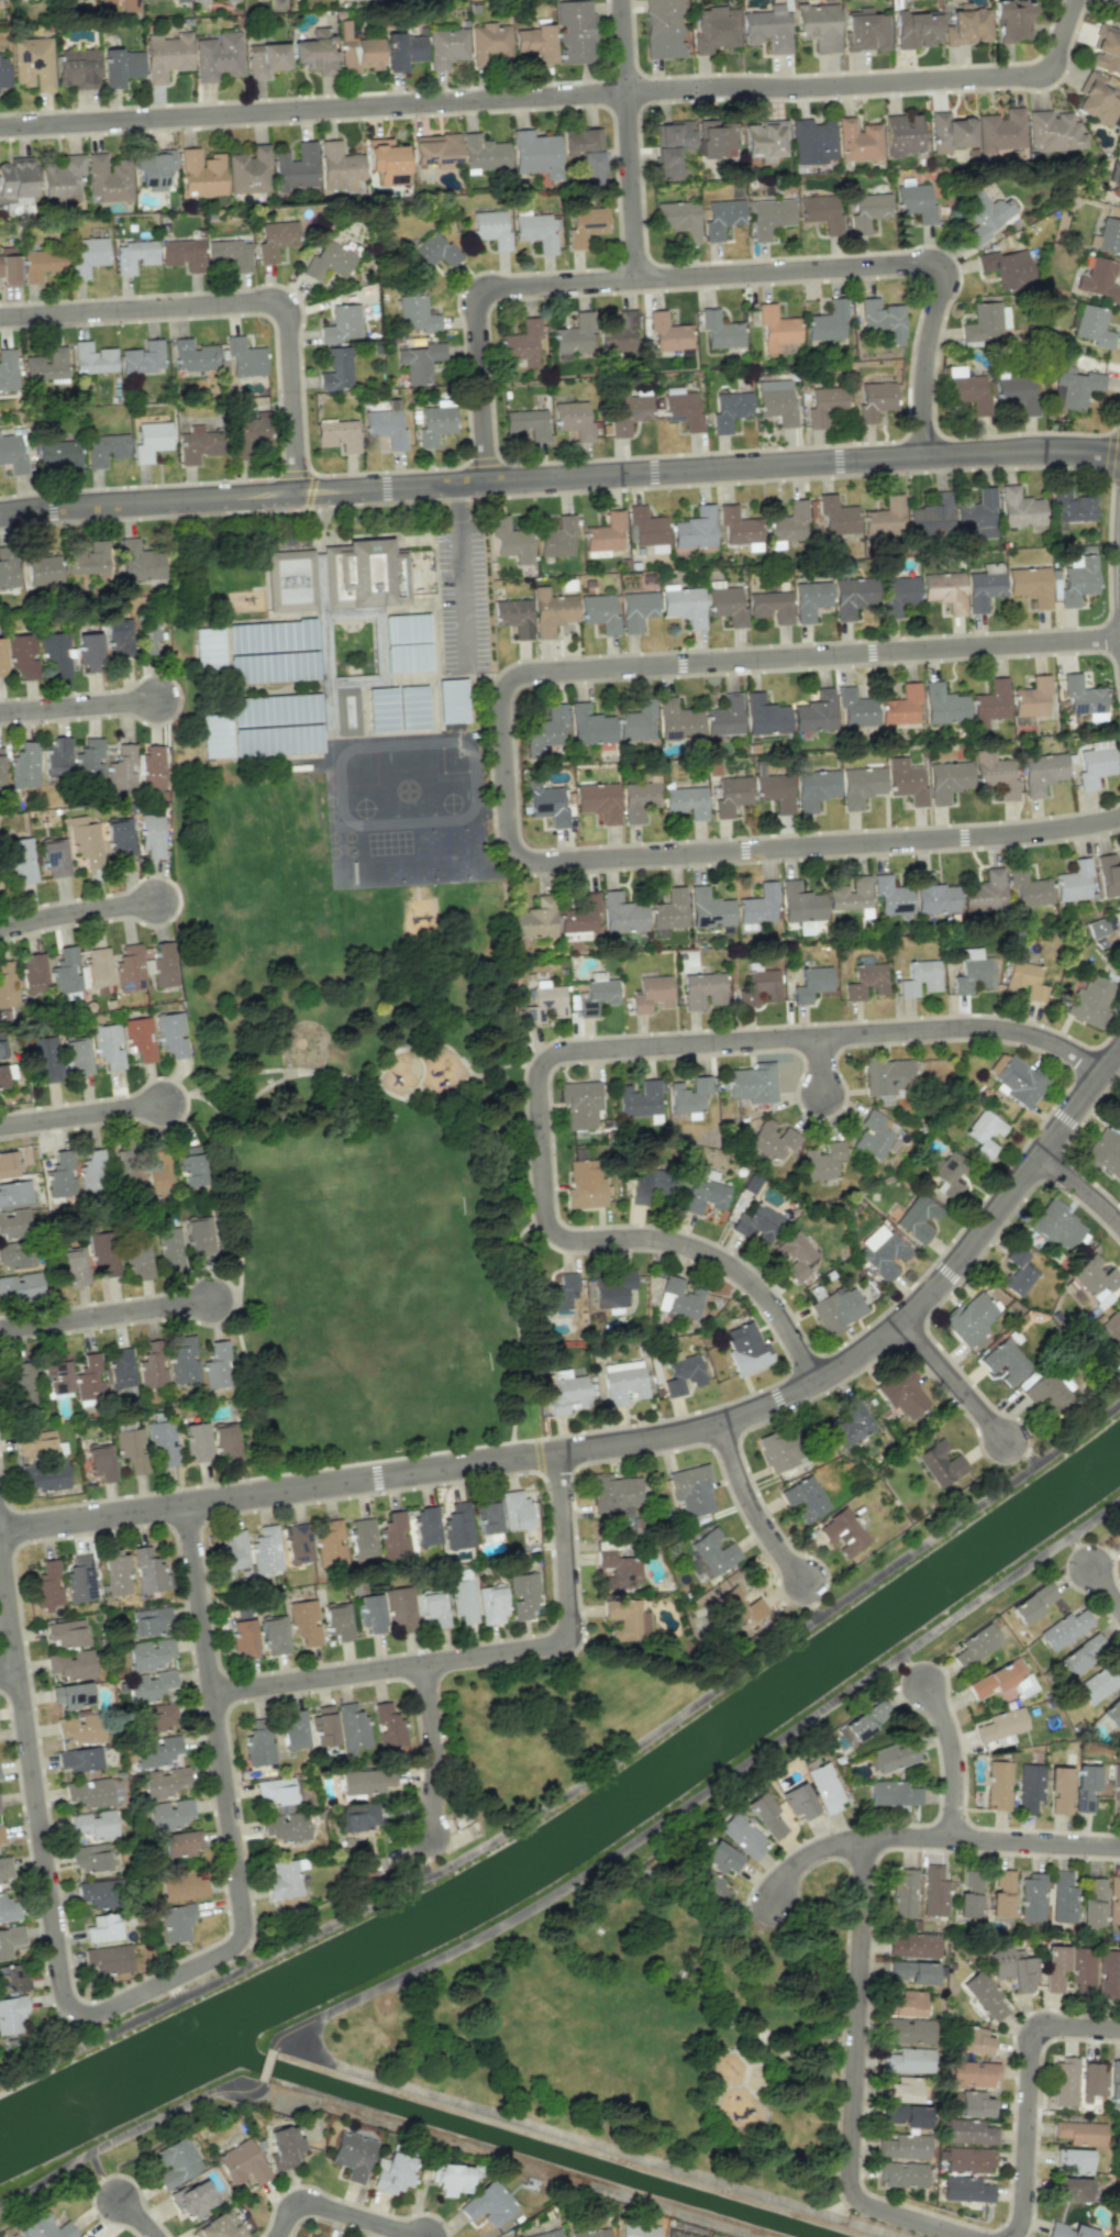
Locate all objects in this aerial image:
building: (151, 0)
building: (230, 0)
building: (199, 1)
building: (121, 4)
building: (1113, 8)
building: (1011, 20)
building: (818, 25)
building: (967, 25)
building: (663, 29)
building: (714, 29)
building: (767, 29)
building: (917, 29)
building: (576, 31)
building: (865, 31)
building: (535, 42)
building: (489, 43)
building: (446, 46)
building: (402, 51)
building: (1106, 51)
building: (315, 52)
building: (358, 53)
building: (166, 56)
building: (218, 56)
building: (265, 58)
building: (32, 63)
building: (120, 66)
building: (77, 68)
building: (2, 73)
road: (878, 84)
building: (1096, 99)
road: (314, 111)
building: (1001, 131)
building: (1053, 131)
building: (950, 132)
building: (901, 134)
road: (631, 139)
building: (764, 139)
building: (714, 140)
building: (857, 140)
building: (811, 141)
building: (670, 147)
building: (435, 149)
building: (483, 154)
building: (535, 154)
building: (585, 154)
building: (385, 160)
building: (339, 166)
building: (296, 167)
building: (153, 168)
building: (248, 170)
building: (200, 174)
building: (60, 178)
building: (108, 178)
building: (15, 179)
building: (1117, 188)
building: (916, 202)
building: (867, 210)
building: (821, 212)
building: (984, 213)
building: (768, 217)
building: (721, 218)
building: (678, 219)
building: (586, 224)
building: (491, 229)
building: (535, 230)
building: (1109, 235)
building: (275, 239)
building: (431, 251)
building: (231, 253)
building: (182, 254)
building: (87, 255)
building: (134, 256)
building: (326, 262)
building: (1007, 268)
building: (8, 270)
road: (709, 274)
building: (1098, 281)
road: (234, 303)
building: (415, 313)
building: (883, 320)
building: (828, 321)
building: (985, 322)
building: (341, 324)
building: (1093, 326)
building: (776, 328)
building: (720, 330)
building: (618, 332)
building: (668, 333)
building: (574, 335)
building: (522, 344)
building: (192, 355)
building: (143, 357)
building: (244, 357)
building: (92, 358)
building: (419, 362)
building: (46, 366)
building: (7, 369)
building: (336, 369)
building: (1073, 388)
building: (1016, 392)
building: (874, 400)
building: (776, 401)
building: (824, 403)
building: (730, 409)
building: (683, 410)
building: (628, 413)
building: (573, 420)
building: (434, 423)
building: (526, 423)
building: (386, 428)
building: (248, 430)
building: (337, 435)
building: (151, 440)
building: (197, 444)
building: (104, 448)
building: (13, 453)
building: (59, 455)
road: (708, 468)
road: (147, 501)
building: (1071, 508)
building: (1020, 509)
building: (931, 517)
building: (976, 517)
building: (883, 518)
building: (836, 519)
building: (787, 524)
building: (738, 525)
building: (646, 528)
building: (695, 529)
building: (606, 533)
building: (557, 539)
building: (511, 540)
building: (88, 560)
building: (140, 563)
building: (41, 568)
building: (8, 574)
road: (461, 576)
building: (1077, 578)
building: (1030, 585)
building: (983, 589)
building: (944, 590)
building: (898, 594)
building: (852, 596)
building: (810, 599)
building: (727, 605)
building: (684, 606)
building: (770, 606)
building: (358, 608)
building: (636, 609)
building: (551, 611)
building: (599, 612)
building: (514, 617)
building: (271, 635)
building: (148, 636)
building: (118, 638)
building: (208, 649)
building: (88, 652)
building: (54, 654)
road: (823, 655)
building: (1, 658)
building: (23, 658)
building: (274, 667)
building: (1031, 697)
building: (452, 700)
building: (989, 702)
road: (79, 705)
building: (943, 705)
building: (900, 706)
building: (412, 708)
building: (855, 708)
building: (276, 709)
building: (381, 709)
building: (345, 711)
building: (814, 712)
building: (764, 715)
building: (724, 717)
building: (636, 720)
building: (677, 720)
building: (590, 726)
building: (545, 730)
building: (215, 735)
building: (277, 740)
building: (57, 756)
building: (88, 760)
building: (0, 765)
building: (24, 765)
building: (1094, 766)
building: (121, 768)
building: (151, 768)
road: (507, 772)
building: (1041, 773)
building: (995, 774)
building: (905, 780)
building: (947, 780)
building: (860, 785)
building: (814, 788)
building: (774, 791)
building: (730, 794)
building: (639, 799)
building: (599, 800)
building: (686, 801)
building: (546, 804)
building: (151, 835)
building: (120, 838)
building: (85, 841)
road: (831, 845)
building: (54, 857)
building: (21, 861)
building: (1108, 874)
building: (1073, 882)
building: (1027, 888)
building: (984, 893)
building: (850, 894)
building: (933, 895)
building: (890, 896)
building: (800, 902)
building: (757, 905)
park: (260, 907)
building: (709, 908)
building: (669, 910)
road: (80, 912)
building: (579, 913)
building: (622, 913)
building: (536, 918)
building: (1096, 928)
building: (1118, 932)
building: (574, 934)
building: (145, 966)
building: (97, 967)
building: (972, 971)
building: (65, 972)
building: (33, 973)
building: (919, 978)
building: (1025, 979)
building: (865, 981)
building: (7, 984)
building: (810, 984)
building: (761, 987)
building: (702, 990)
building: (651, 994)
building: (596, 996)
building: (550, 999)
building: (1090, 1001)
building: (170, 1034)
building: (138, 1038)
road: (421, 1044)
building: (107, 1045)
building: (0, 1049)
road: (578, 1051)
building: (77, 1055)
building: (44, 1057)
road: (824, 1065)
road: (499, 1068)
road: (268, 1070)
building: (888, 1076)
building: (1, 1077)
building: (1019, 1082)
building: (753, 1083)
building: (689, 1095)
road: (425, 1098)
building: (579, 1103)
road: (82, 1115)
park: (355, 1130)
building: (984, 1133)
building: (872, 1137)
building: (770, 1139)
building: (1105, 1153)
building: (822, 1161)
building: (125, 1163)
building: (7, 1165)
building: (191, 1167)
building: (157, 1169)
building: (90, 1170)
building: (60, 1174)
building: (650, 1184)
building: (585, 1185)
road: (1083, 1186)
building: (703, 1189)
building: (14, 1193)
park: (353, 1214)
building: (917, 1217)
building: (13, 1222)
building: (756, 1222)
building: (200, 1238)
building: (169, 1249)
building: (881, 1251)
building: (103, 1253)
building: (15, 1255)
road: (241, 1256)
building: (792, 1256)
building: (137, 1260)
building: (73, 1267)
building: (1017, 1272)
building: (1094, 1275)
building: (20, 1286)
building: (613, 1288)
building: (566, 1291)
road: (226, 1297)
building: (679, 1298)
building: (835, 1310)
road: (107, 1316)
building: (969, 1318)
building: (1110, 1331)
building: (745, 1349)
building: (182, 1359)
building: (1003, 1362)
building: (152, 1365)
building: (215, 1365)
building: (120, 1367)
park: (380, 1367)
building: (683, 1375)
building: (89, 1377)
building: (623, 1382)
road: (955, 1382)
building: (23, 1385)
building: (1046, 1392)
building: (902, 1393)
building: (851, 1424)
building: (226, 1439)
building: (197, 1441)
building: (163, 1443)
road: (635, 1443)
building: (35, 1444)
building: (131, 1450)
building: (777, 1450)
building: (100, 1462)
building: (941, 1463)
building: (43, 1476)
building: (692, 1490)
building: (613, 1494)
building: (805, 1497)
building: (514, 1509)
road: (753, 1509)
building: (486, 1517)
building: (425, 1526)
building: (457, 1526)
building: (842, 1532)
building: (393, 1536)
building: (362, 1537)
building: (489, 1537)
building: (1119, 1538)
building: (329, 1542)
building: (298, 1543)
building: (233, 1549)
building: (266, 1550)
building: (713, 1551)
road: (1080, 1551)
building: (147, 1570)
building: (619, 1570)
building: (115, 1574)
building: (79, 1580)
building: (48, 1586)
road: (1106, 1587)
road: (866, 1590)
building: (463, 1601)
building: (1033, 1602)
building: (491, 1605)
building: (400, 1608)
building: (740, 1609)
building: (433, 1610)
building: (243, 1613)
building: (370, 1613)
building: (626, 1619)
building: (149, 1620)
building: (304, 1621)
building: (337, 1621)
building: (1064, 1629)
building: (65, 1634)
building: (274, 1635)
building: (243, 1637)
building: (976, 1646)
building: (149, 1653)
building: (1077, 1655)
road: (478, 1657)
building: (70, 1665)
road: (909, 1666)
road: (8, 1672)
building: (996, 1679)
building: (1100, 1682)
building: (149, 1686)
building: (71, 1695)
building: (1111, 1712)
building: (159, 1717)
road: (213, 1719)
building: (863, 1723)
building: (388, 1725)
building: (1001, 1725)
building: (323, 1726)
building: (353, 1726)
building: (79, 1729)
building: (295, 1729)
building: (259, 1743)
road: (437, 1749)
building: (156, 1750)
building: (896, 1754)
road: (951, 1756)
building: (80, 1759)
building: (365, 1780)
building: (164, 1781)
building: (998, 1785)
building: (824, 1786)
building: (1029, 1787)
building: (1084, 1787)
building: (1116, 1789)
building: (1058, 1790)
road: (705, 1791)
building: (274, 1792)
building: (87, 1793)
building: (894, 1793)
building: (798, 1801)
building: (168, 1814)
building: (358, 1816)
building: (766, 1816)
building: (93, 1826)
building: (285, 1826)
building: (1, 1835)
building: (742, 1836)
road: (930, 1838)
building: (180, 1843)
building: (89, 1857)
building: (719, 1857)
building: (4, 1870)
building: (285, 1879)
building: (705, 1879)
building: (181, 1886)
road: (45, 1889)
building: (934, 1891)
building: (98, 1893)
building: (902, 1893)
building: (1001, 1894)
building: (968, 1895)
building: (1062, 1896)
building: (1031, 1897)
building: (1113, 1900)
building: (1091, 1902)
building: (8, 1908)
building: (176, 1922)
building: (102, 1928)
road: (307, 1934)
building: (10, 1940)
building: (912, 1945)
building: (108, 1959)
building: (1012, 1968)
building: (1054, 1968)
building: (1082, 1971)
building: (911, 1972)
building: (1108, 1973)
building: (12, 1980)
building: (985, 1995)
building: (903, 2003)
building: (11, 2015)
park: (639, 2029)
building: (908, 2030)
building: (973, 2040)
building: (909, 2060)
road: (266, 2064)
building: (973, 2072)
road: (851, 2081)
building: (1090, 2081)
building: (1064, 2082)
building: (1113, 2084)
building: (902, 2090)
road: (1027, 2094)
building: (969, 2104)
building: (905, 2117)
building: (968, 2131)
road: (129, 2133)
building: (1080, 2133)
road: (569, 2136)
building: (284, 2147)
building: (903, 2147)
building: (351, 2155)
building: (966, 2159)
building: (1073, 2160)
building: (175, 2162)
building: (241, 2163)
building: (393, 2173)
building: (901, 2174)
road: (100, 2178)
building: (450, 2179)
building: (965, 2189)
building: (1072, 2190)
building: (192, 2199)
building: (487, 2204)
road: (342, 2211)
road: (135, 2217)
building: (220, 2226)
road: (866, 2227)
building: (44, 2228)
building: (636, 2229)
building: (1069, 2230)
building: (590, 2233)
building: (546, 2234)
building: (679, 2234)
building: (86, 2236)

